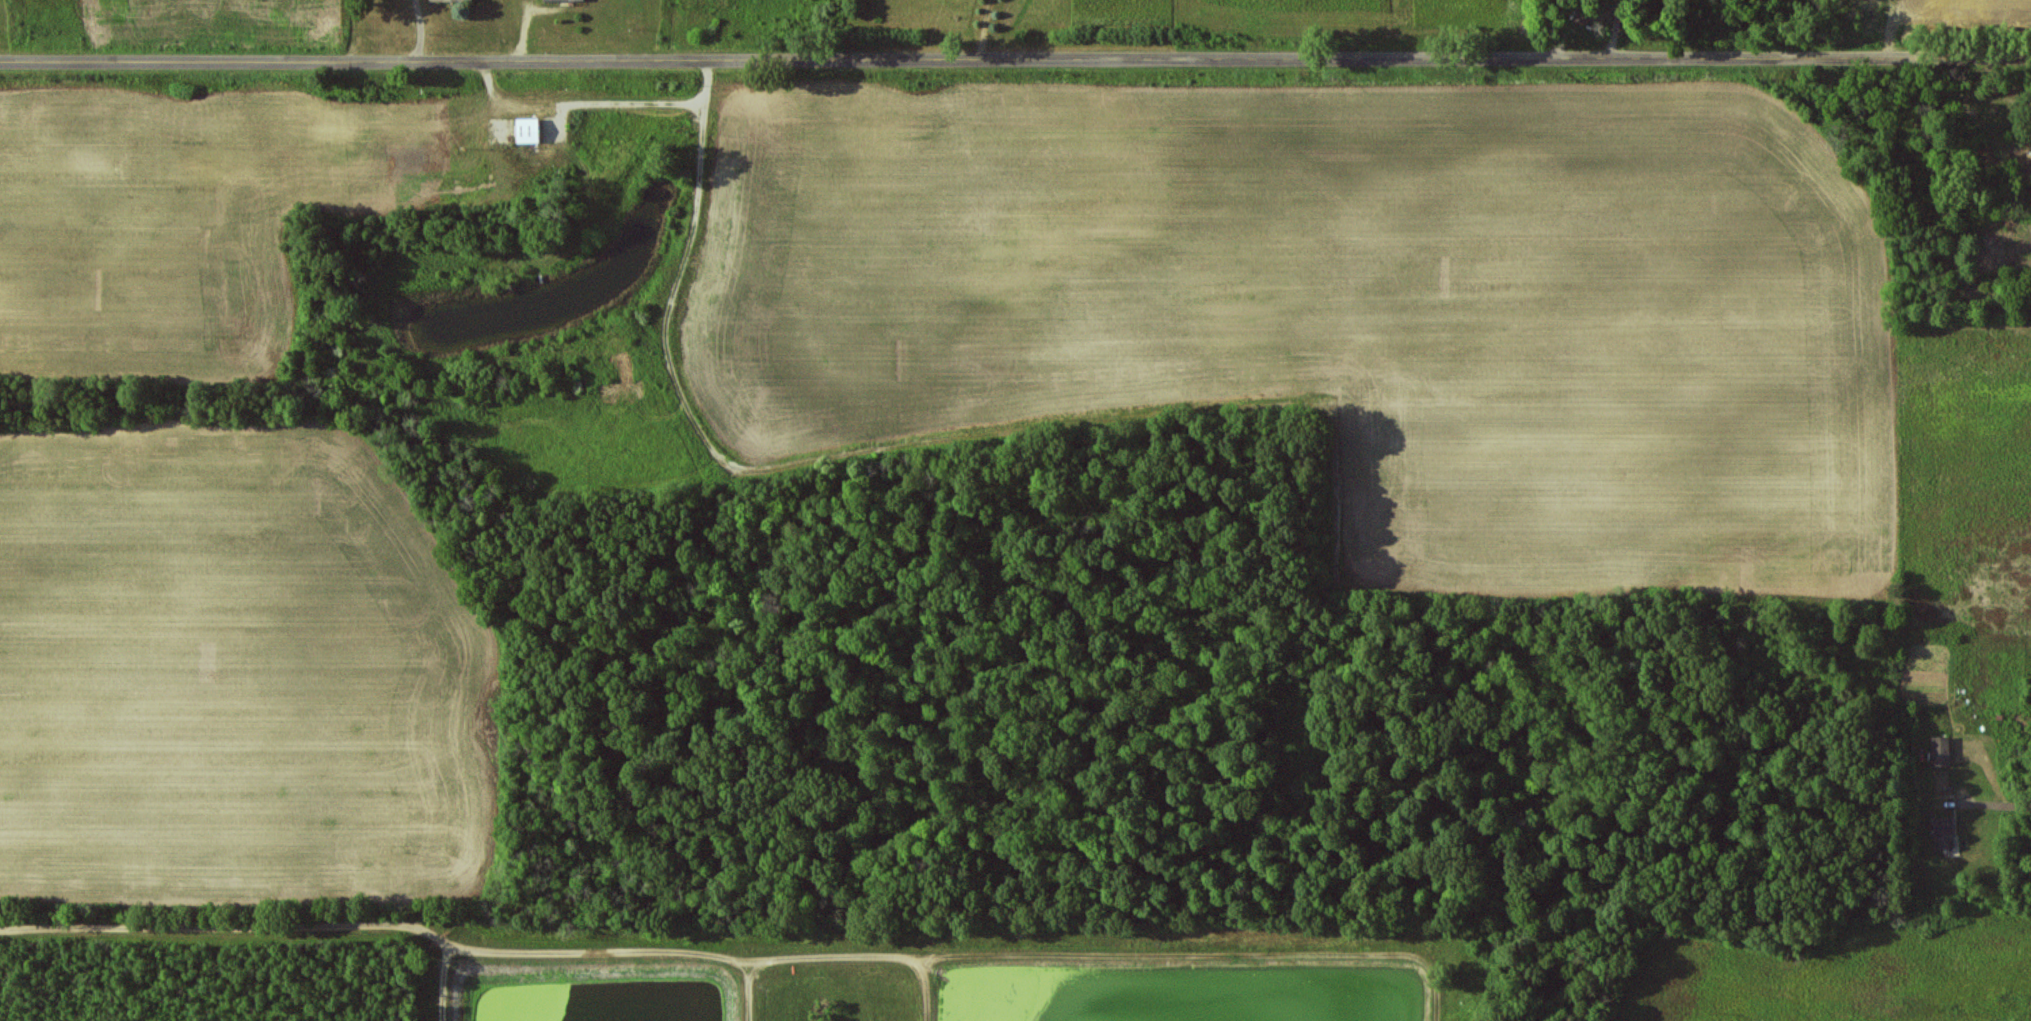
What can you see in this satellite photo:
building: (563, 0)
road: (983, 31)
road: (1015, 62)
building: (531, 131)
building: (1941, 751)
road: (1982, 804)
building: (1944, 833)

